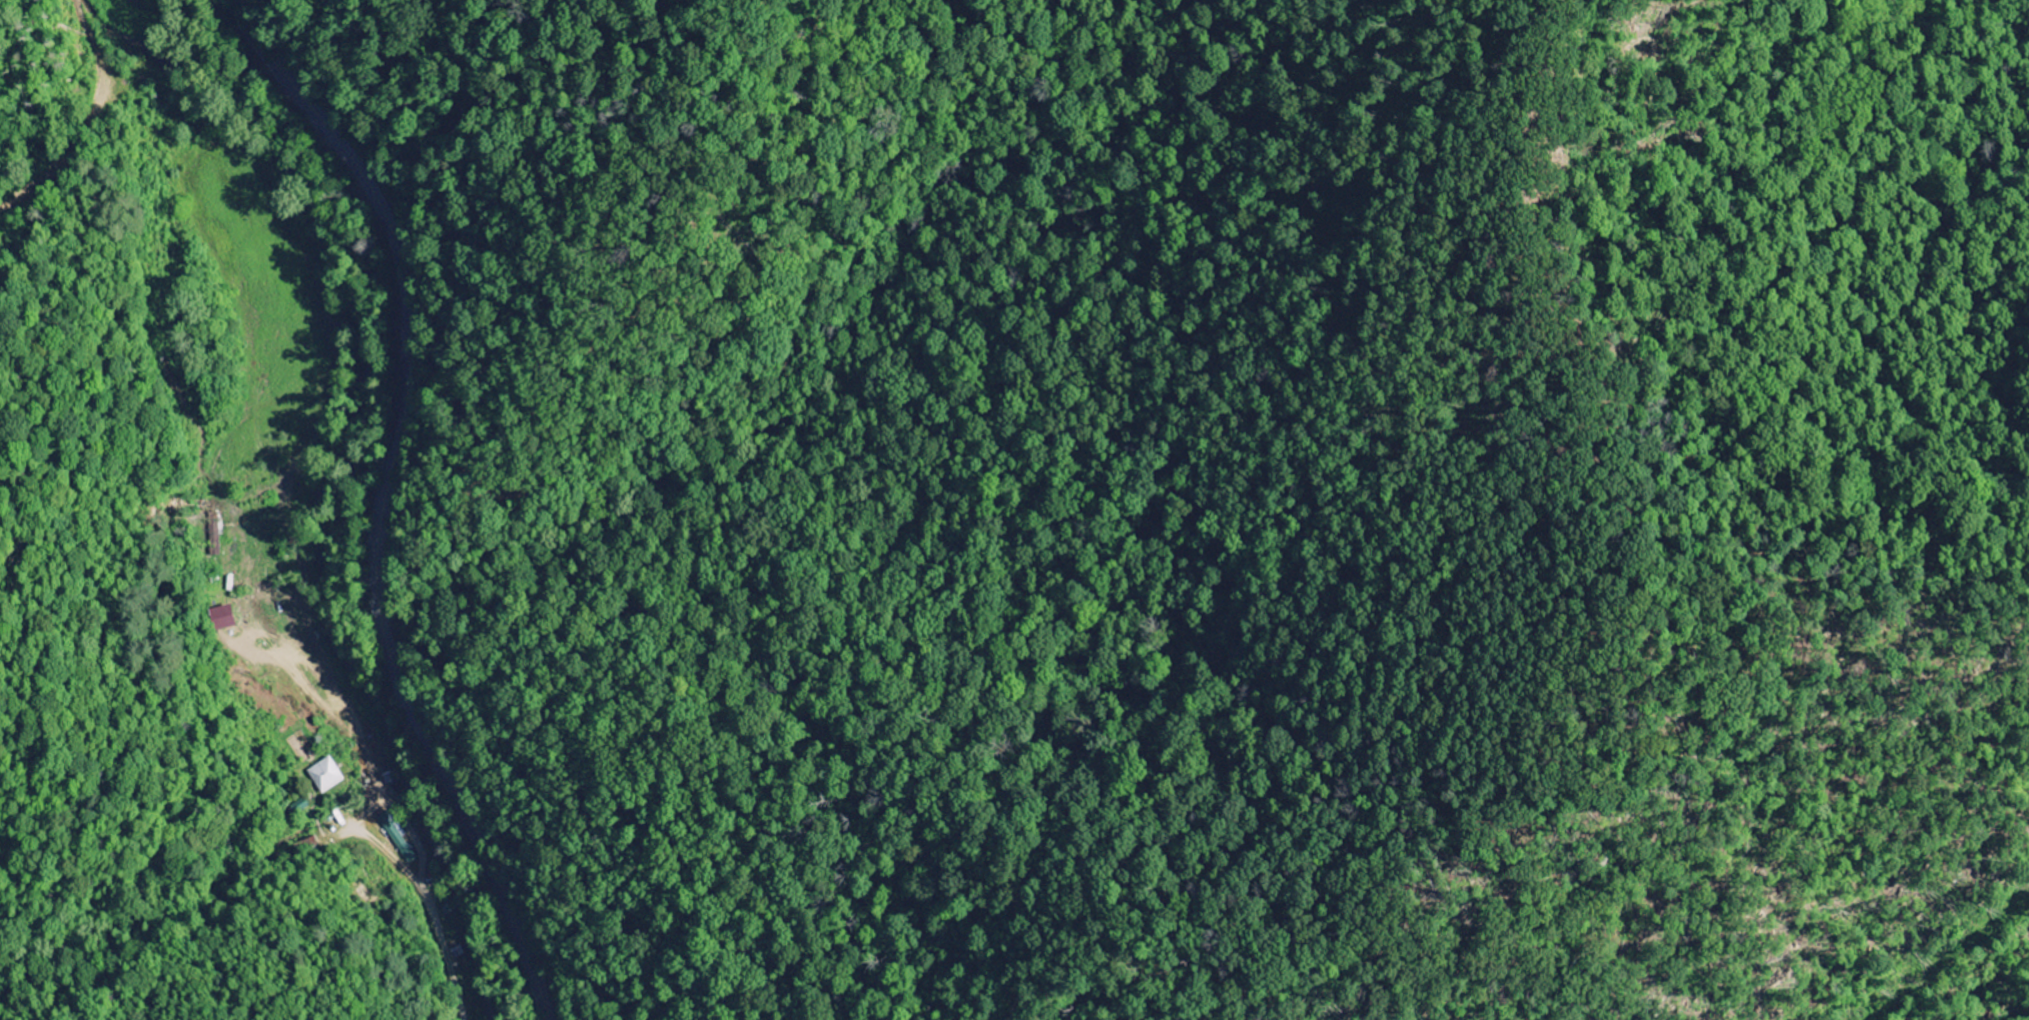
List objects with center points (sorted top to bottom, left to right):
road: (386, 499)
building: (225, 617)
building: (325, 775)
building: (397, 841)
road: (416, 907)

